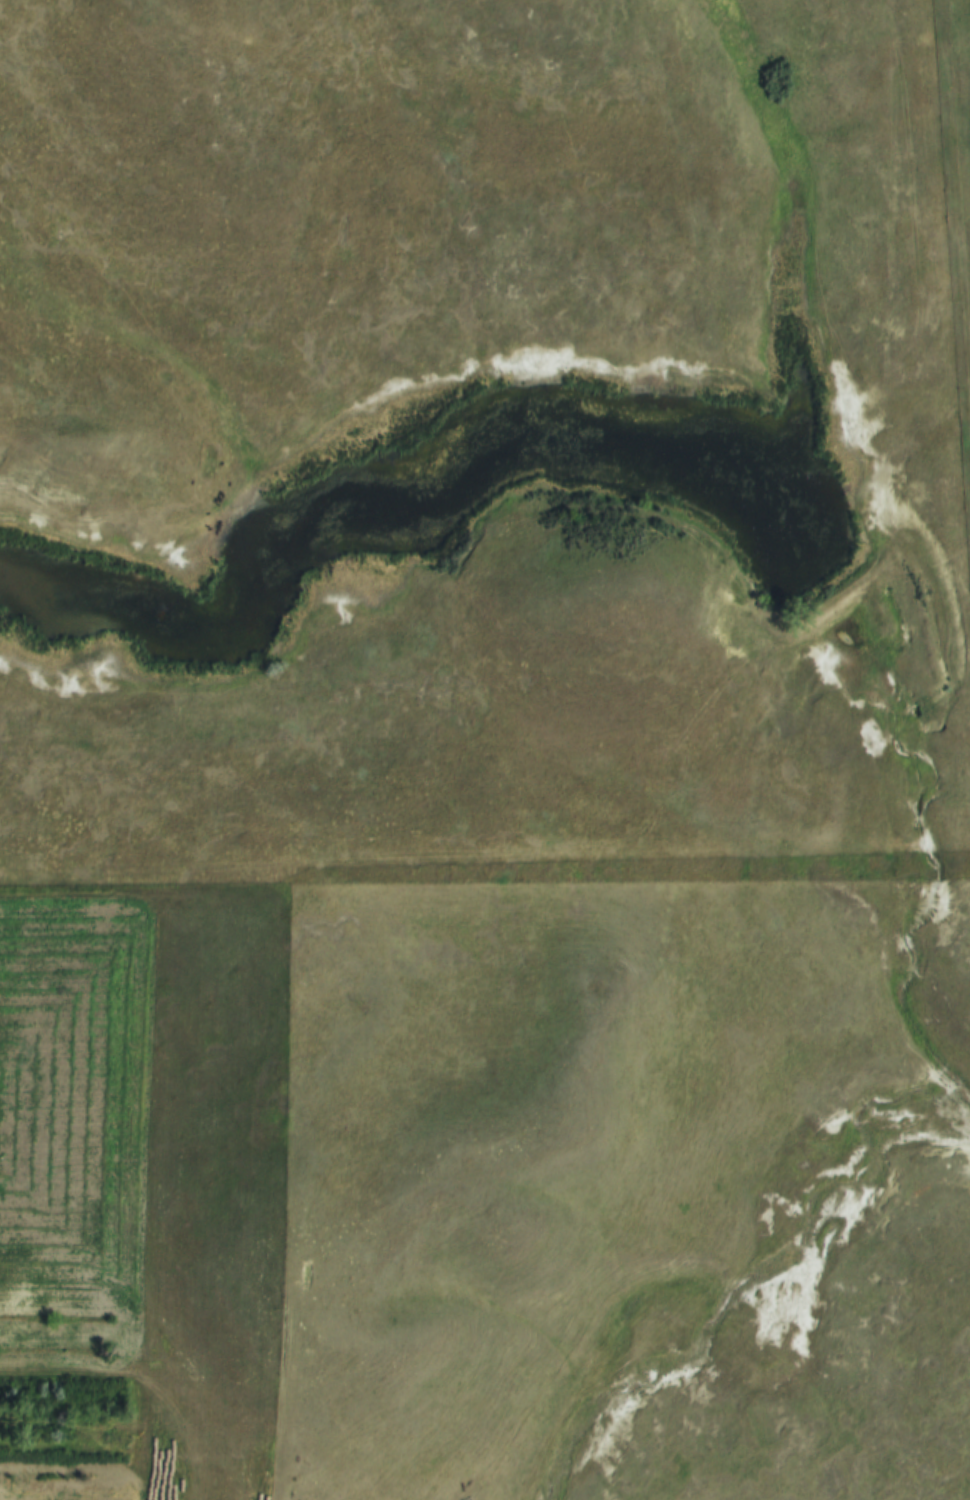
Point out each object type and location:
road: (957, 160)
dam: (824, 576)

